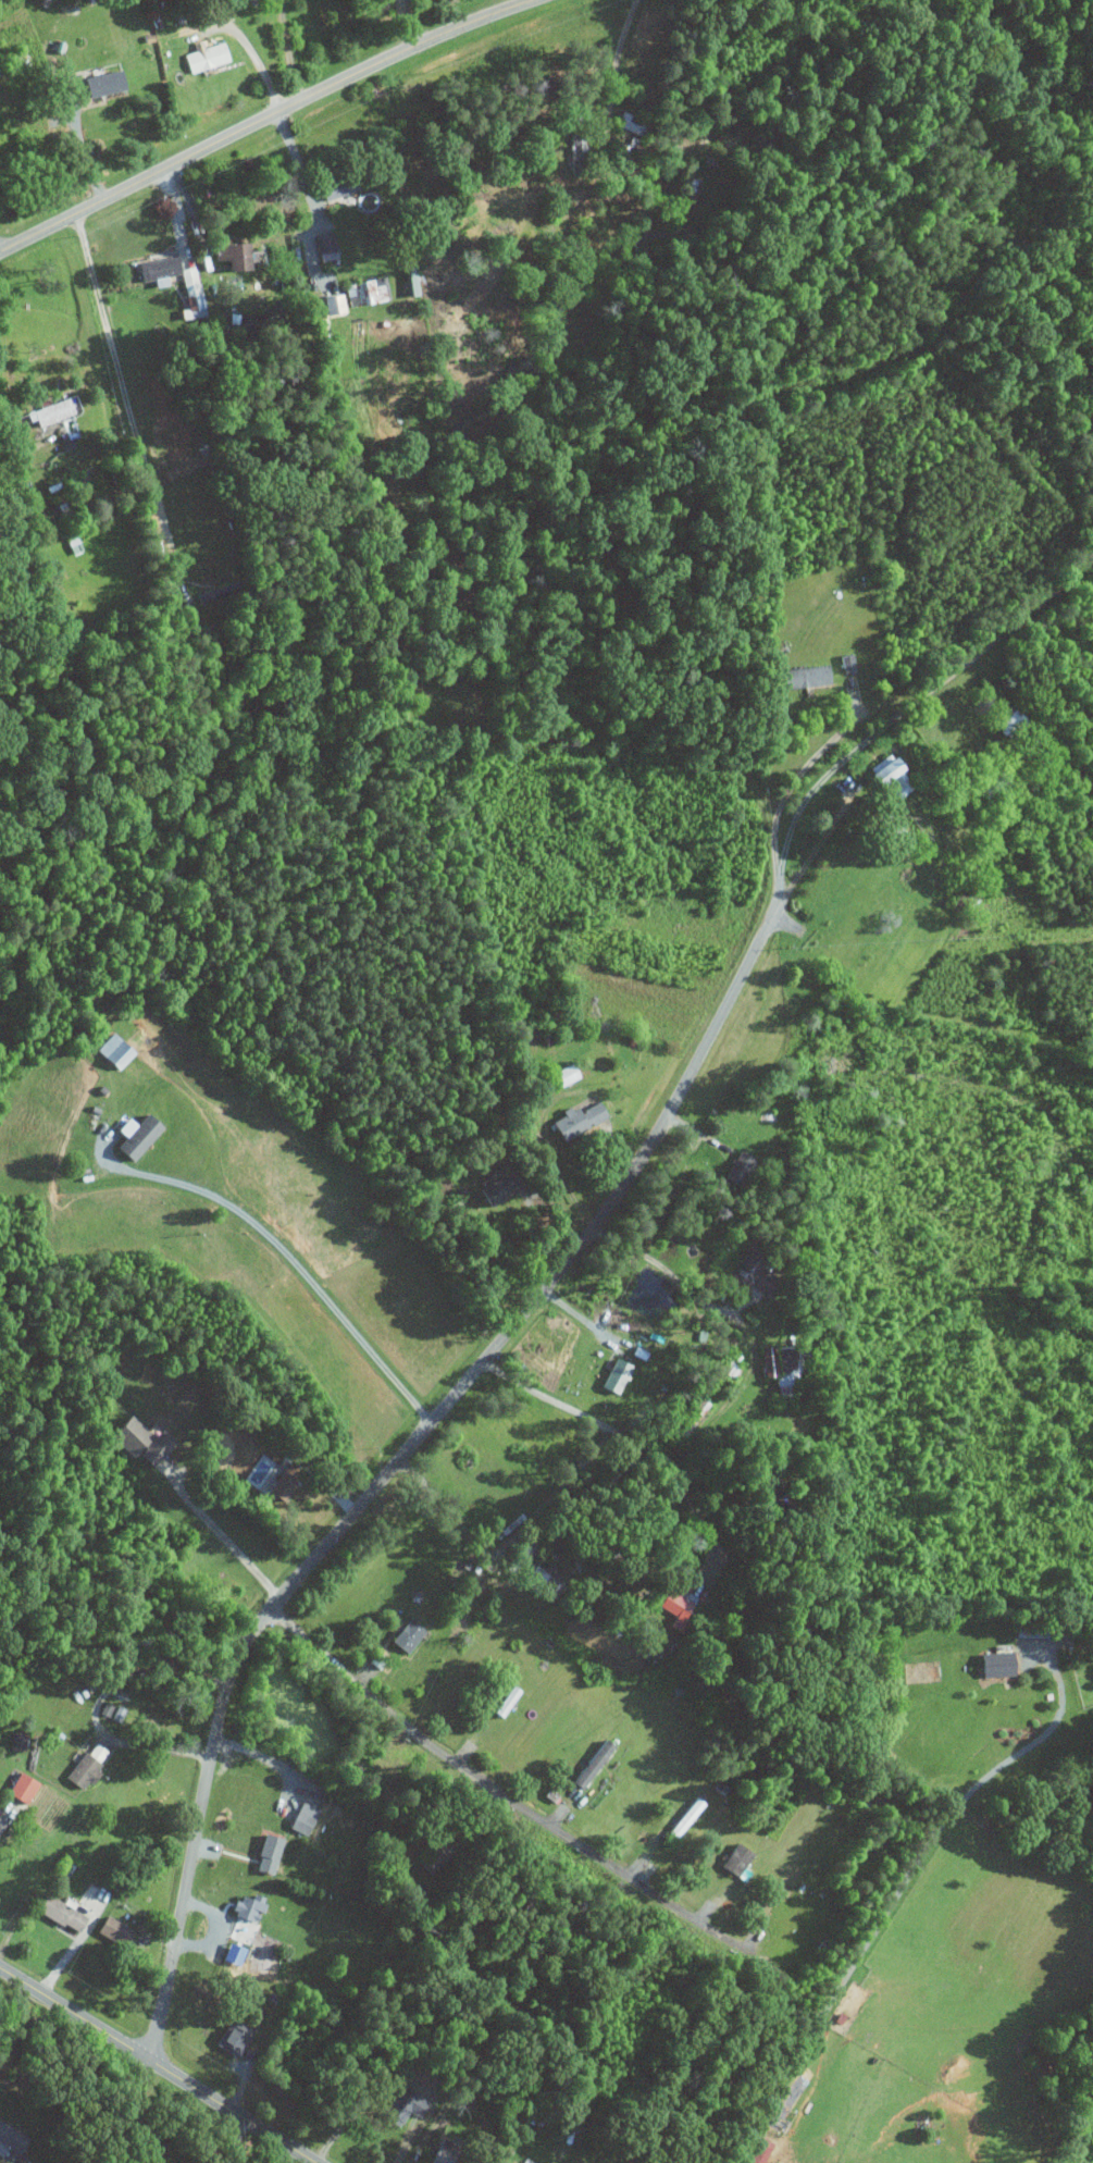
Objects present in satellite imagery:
road: (287, 51)
building: (203, 58)
road: (257, 60)
road: (613, 65)
building: (101, 84)
road: (264, 121)
road: (83, 149)
building: (333, 188)
building: (695, 189)
road: (312, 198)
building: (322, 244)
building: (228, 257)
building: (156, 271)
building: (407, 280)
building: (368, 292)
building: (189, 295)
building: (328, 305)
road: (124, 396)
building: (51, 412)
building: (803, 678)
road: (929, 687)
road: (792, 780)
building: (119, 1050)
building: (582, 1122)
building: (141, 1136)
building: (498, 1191)
road: (290, 1262)
road: (678, 1280)
building: (620, 1376)
road: (422, 1431)
building: (145, 1442)
road: (654, 1456)
building: (285, 1487)
road: (443, 1501)
road: (231, 1546)
building: (410, 1636)
building: (1002, 1665)
road: (98, 1701)
building: (114, 1711)
building: (20, 1742)
road: (261, 1757)
building: (91, 1765)
building: (25, 1788)
road: (498, 1793)
building: (1, 1813)
building: (690, 1817)
building: (306, 1819)
building: (273, 1855)
building: (741, 1859)
road: (896, 1894)
building: (251, 1911)
building: (65, 1915)
building: (119, 1932)
road: (74, 1948)
building: (236, 2042)
road: (157, 2066)
building: (418, 2106)
road: (360, 2109)
road: (122, 2114)
road: (436, 2119)
building: (13, 2138)
building: (445, 2159)

